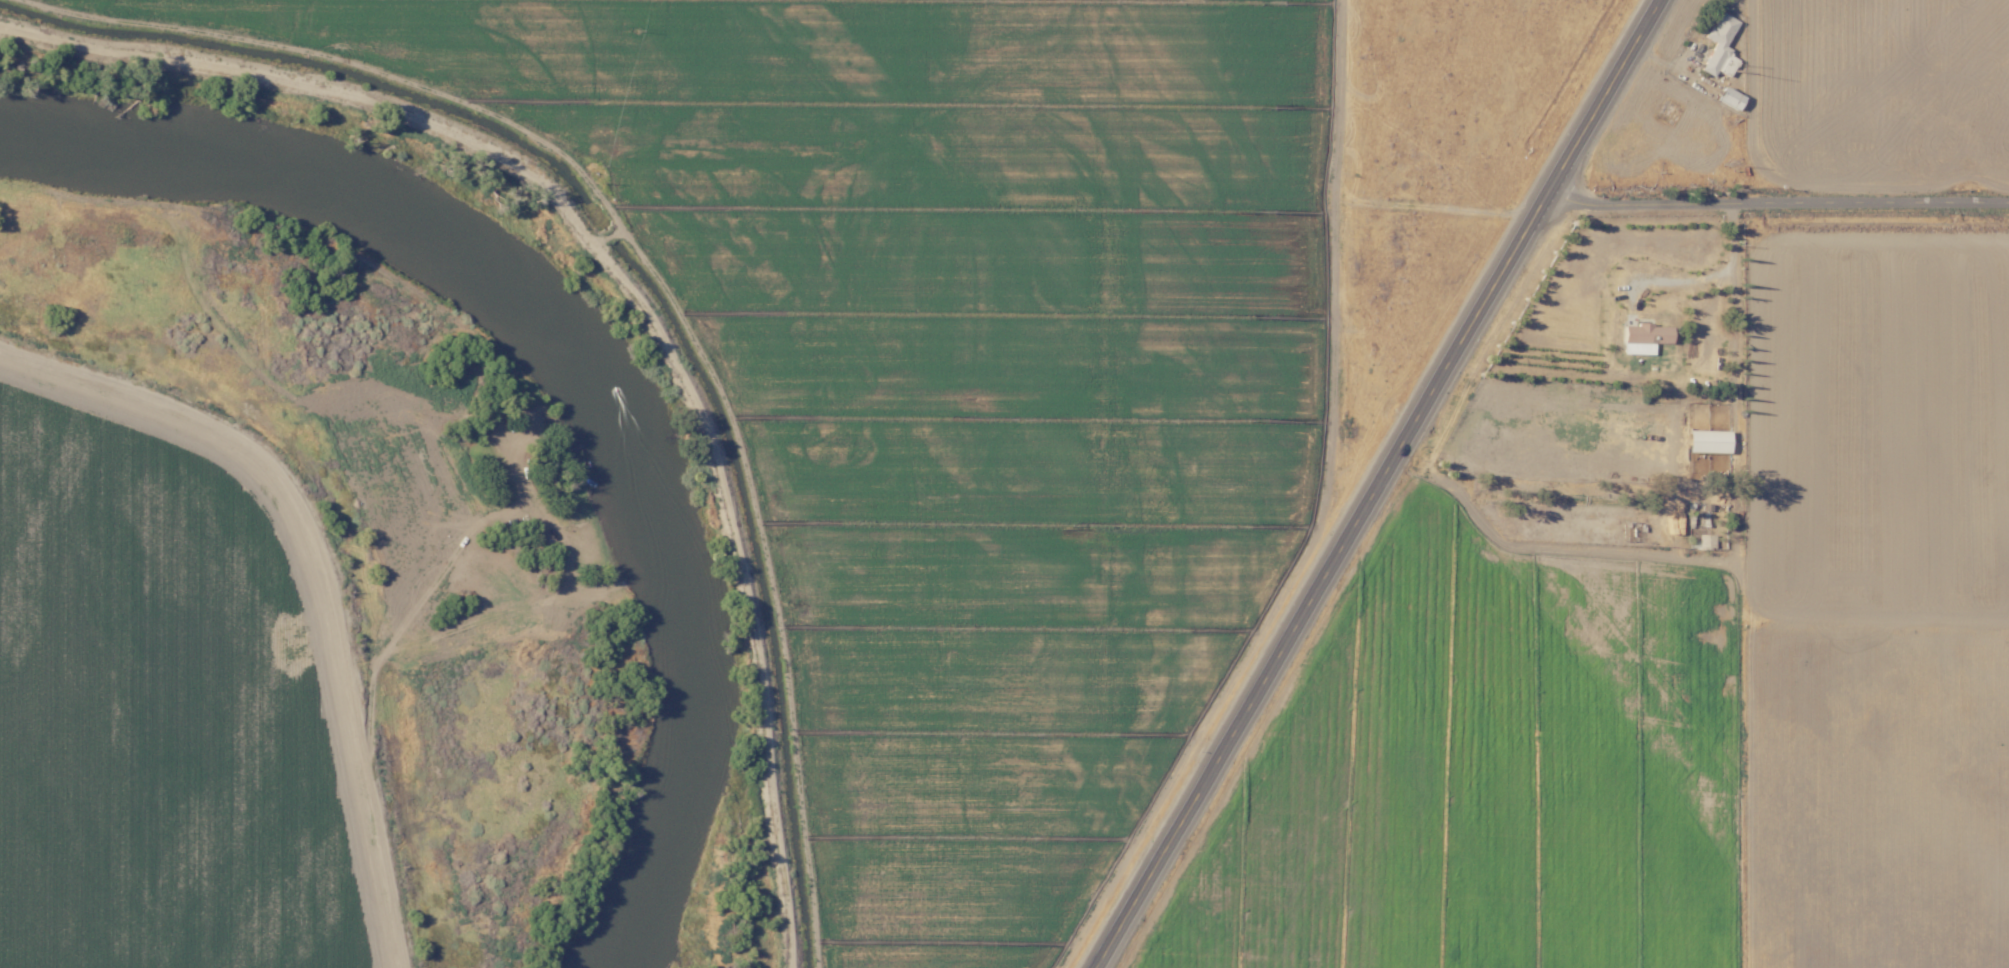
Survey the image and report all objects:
building: (1718, 46)
building: (1728, 97)
road: (1775, 200)
building: (1642, 336)
crop: (770, 355)
river: (501, 366)
road: (1107, 368)
building: (1706, 440)
road: (1380, 482)
road: (319, 567)
crop: (163, 701)

